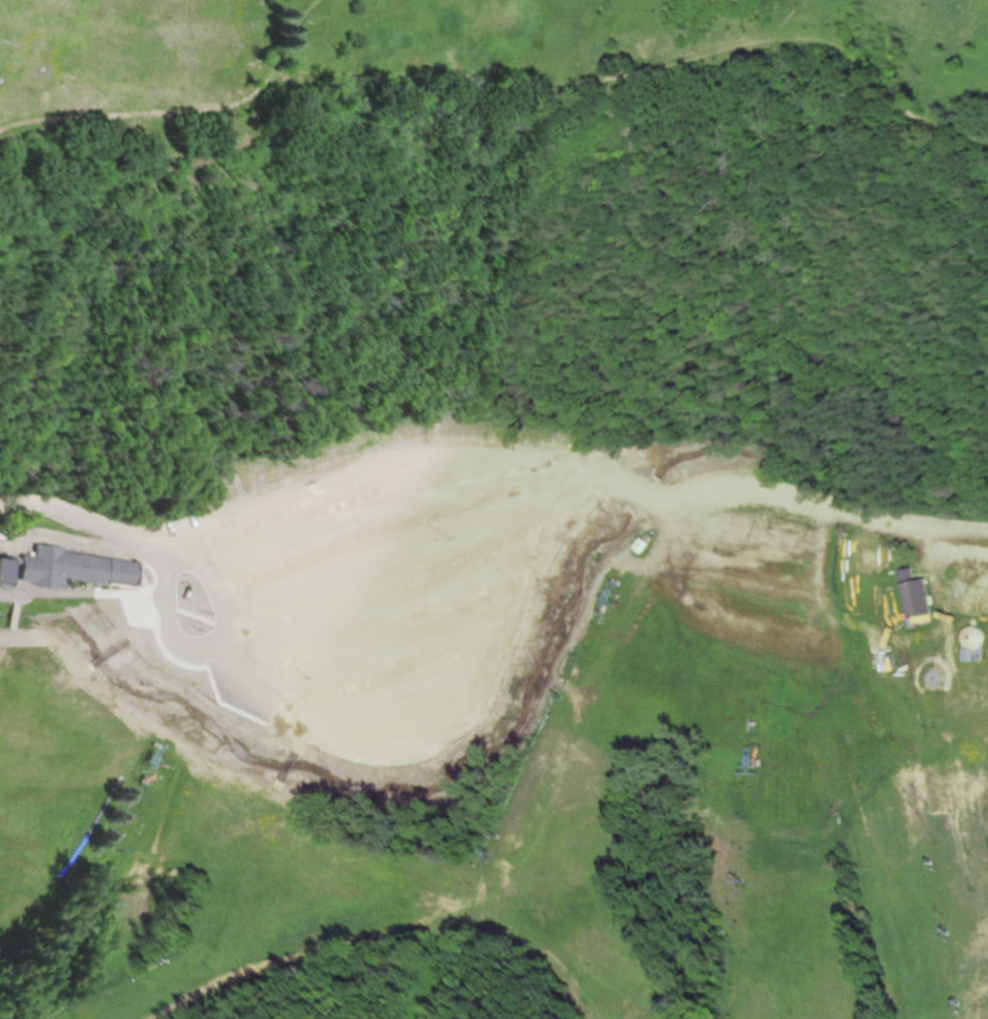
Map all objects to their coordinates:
road: (646, 76)
road: (184, 110)
park: (490, 132)
road: (468, 520)
building: (66, 568)
building: (917, 598)
parking lot: (396, 627)
road: (96, 639)
aerialway pylon: (566, 697)
building: (946, 702)
aerialway pylon: (140, 783)
ski resort: (543, 809)
aerialway pylon: (503, 835)
aerialway pylon: (111, 850)
aerialway pylon: (495, 853)
aerialway pylon: (747, 877)

